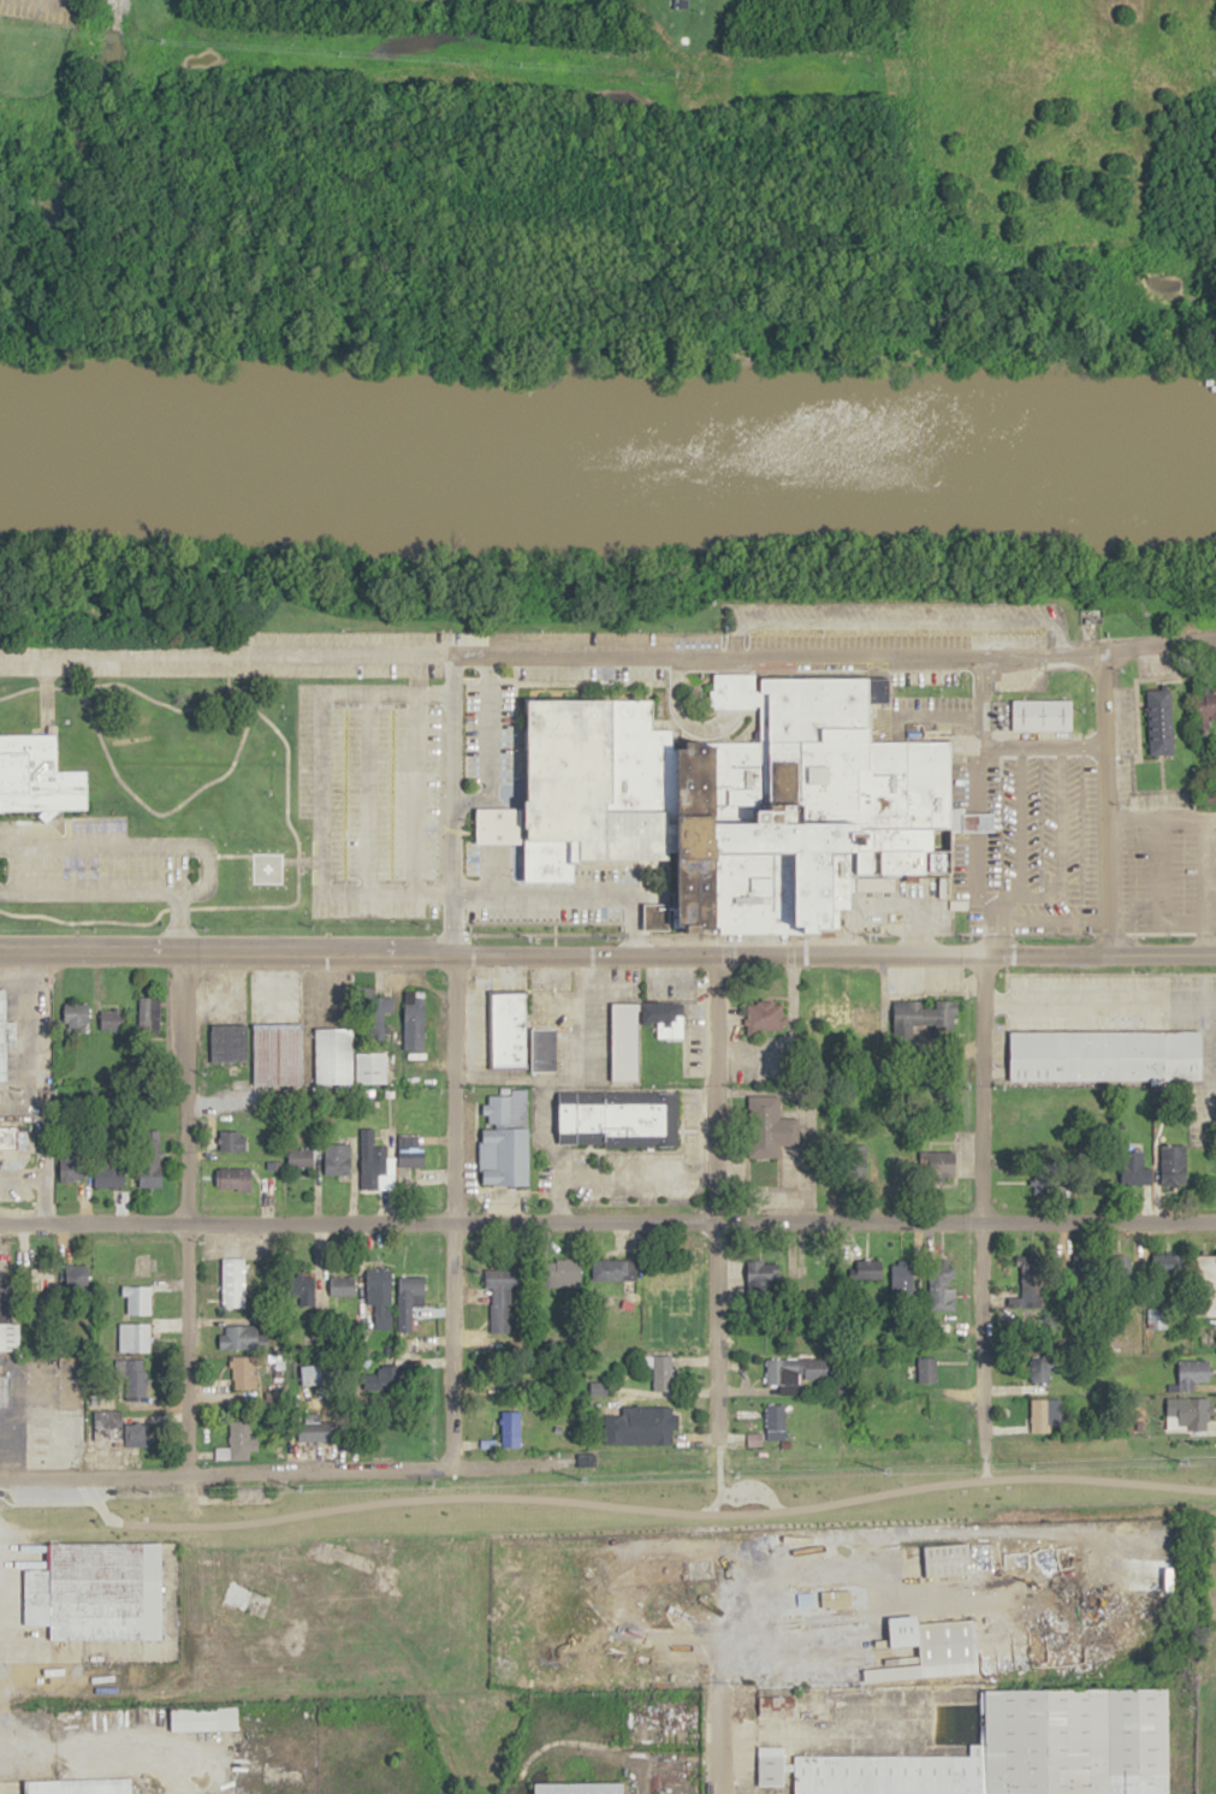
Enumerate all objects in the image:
parking lot: (42, 10)
river: (607, 446)
road: (895, 622)
parking lot: (892, 623)
parking lot: (494, 638)
road: (834, 652)
road: (226, 655)
parking lot: (224, 667)
parking lot: (591, 671)
road: (42, 686)
road: (79, 686)
road: (977, 692)
parking lot: (924, 693)
building: (1206, 704)
road: (179, 707)
road: (939, 714)
building: (1043, 715)
building: (1159, 722)
road: (702, 729)
parking lot: (482, 754)
road: (487, 772)
building: (38, 775)
road: (319, 791)
building: (1210, 792)
road: (366, 793)
road: (413, 793)
parking lot: (370, 794)
road: (975, 794)
road: (469, 800)
building: (737, 800)
road: (1104, 801)
road: (450, 804)
road: (1020, 819)
parking lot: (1043, 837)
road: (1061, 853)
road: (227, 854)
road: (287, 859)
parking lot: (100, 860)
road: (207, 865)
helipad: (265, 868)
parking lot: (607, 871)
building: (265, 874)
parking lot: (1168, 876)
road: (565, 893)
parking lot: (542, 913)
road: (95, 920)
road: (180, 922)
road: (607, 953)
building: (148, 1012)
building: (830, 1014)
building: (664, 1016)
building: (923, 1016)
building: (76, 1017)
building: (376, 1017)
building: (113, 1018)
building: (414, 1018)
building: (765, 1018)
building: (508, 1025)
building: (4, 1035)
building: (229, 1041)
building: (544, 1048)
building: (278, 1052)
building: (1105, 1054)
building: (333, 1055)
building: (617, 1099)
building: (767, 1126)
building: (12, 1136)
building: (504, 1136)
building: (232, 1139)
road: (41, 1147)
building: (409, 1150)
building: (299, 1155)
building: (337, 1157)
building: (150, 1159)
building: (858, 1162)
building: (943, 1162)
building: (1173, 1162)
building: (894, 1164)
building: (373, 1166)
building: (72, 1167)
building: (109, 1174)
building: (233, 1178)
road: (452, 1185)
road: (984, 1190)
road: (713, 1196)
road: (41, 1201)
road: (184, 1213)
road: (607, 1220)
building: (612, 1268)
building: (903, 1278)
building: (232, 1283)
building: (941, 1284)
building: (1206, 1284)
building: (410, 1289)
building: (666, 1295)
building: (378, 1298)
building: (137, 1299)
building: (502, 1301)
building: (6, 1316)
building: (1156, 1318)
building: (134, 1336)
building: (239, 1336)
building: (1038, 1366)
building: (925, 1368)
building: (245, 1370)
building: (315, 1372)
building: (662, 1372)
building: (795, 1372)
building: (1191, 1373)
building: (132, 1378)
building: (386, 1378)
building: (4, 1387)
building: (1190, 1411)
building: (1040, 1415)
building: (775, 1421)
building: (656, 1425)
building: (313, 1427)
building: (119, 1428)
building: (397, 1428)
building: (509, 1428)
building: (41, 1435)
gas station: (41, 1435)
building: (239, 1440)
road: (248, 1470)
railway: (207, 1506)
railway: (470, 1511)
building: (948, 1561)
building: (245, 1598)
building: (100, 1599)
building: (823, 1600)
building: (931, 1651)
building: (779, 1703)
building: (203, 1718)
road: (716, 1746)
building: (1025, 1749)
building: (771, 1769)
building: (81, 1786)
building: (579, 1788)

